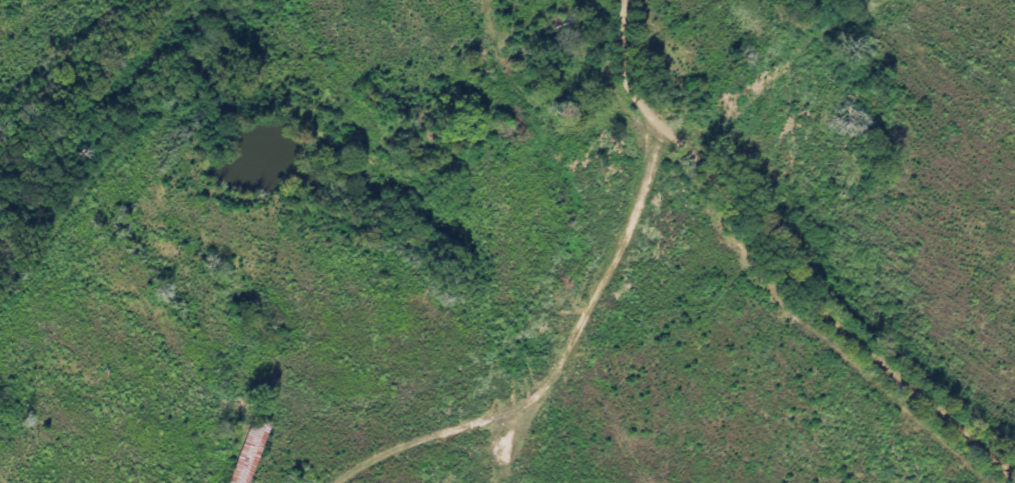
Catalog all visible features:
road: (795, 247)

